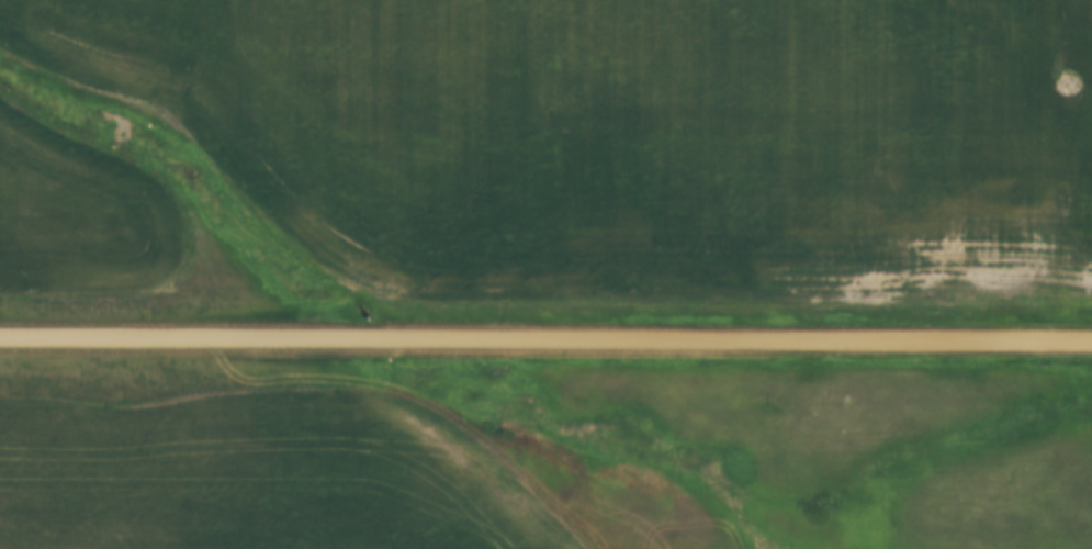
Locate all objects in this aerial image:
road: (545, 341)

